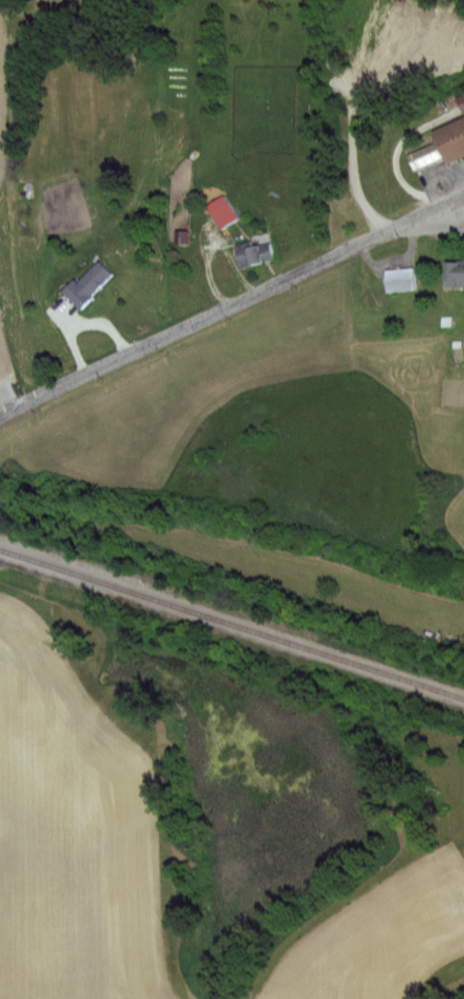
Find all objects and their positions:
park: (392, 82)
crop: (6, 92)
building: (463, 97)
building: (443, 148)
road: (460, 204)
building: (225, 212)
building: (257, 254)
building: (457, 275)
building: (405, 280)
building: (90, 285)
road: (231, 305)
crop: (4, 373)
railway: (232, 623)

